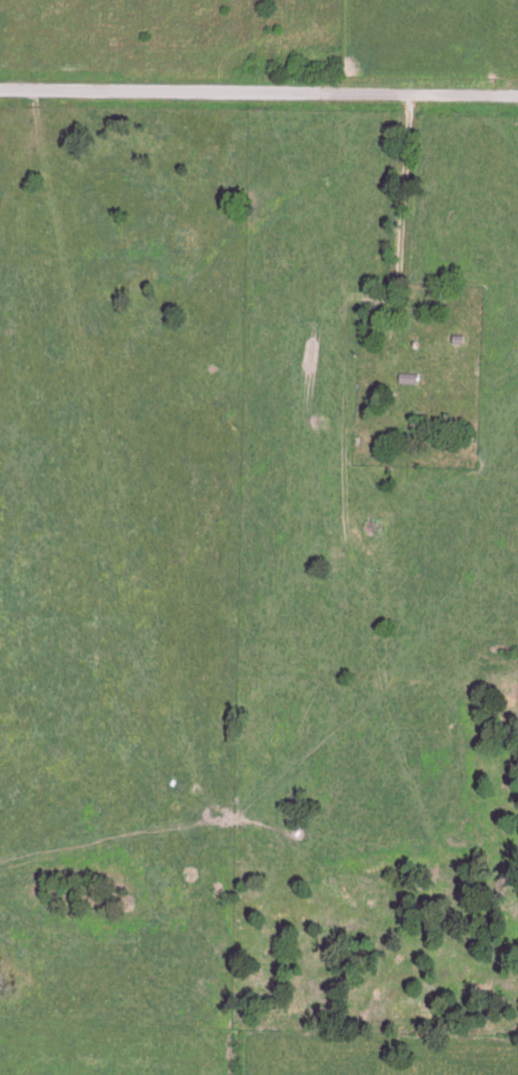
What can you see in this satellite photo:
road: (258, 91)
building: (425, 352)

